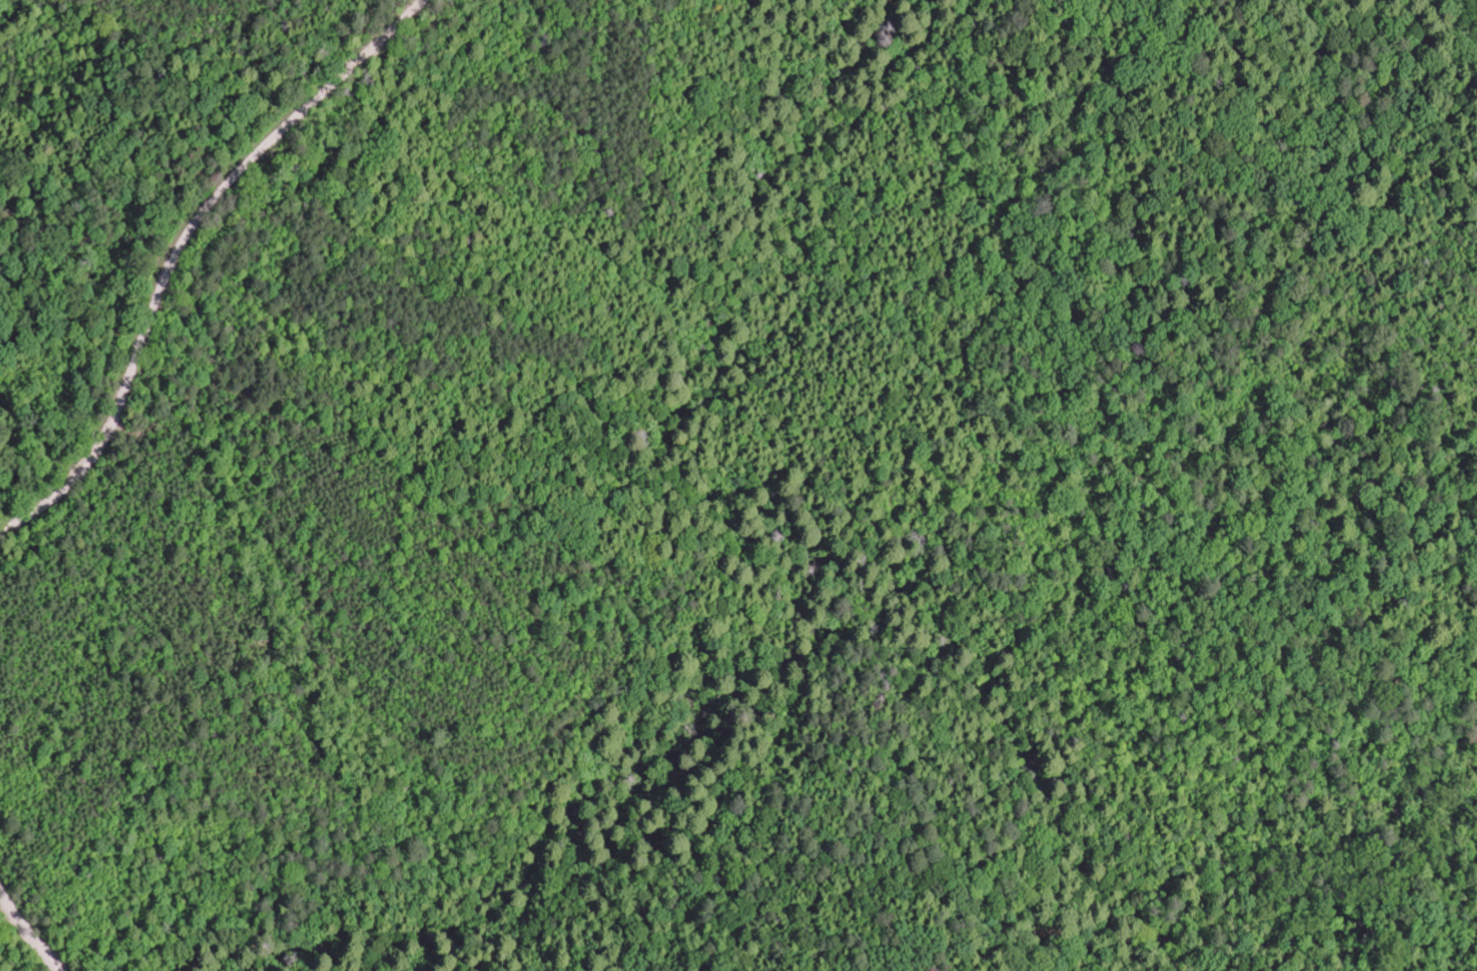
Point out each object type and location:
road: (182, 256)
road: (27, 932)

